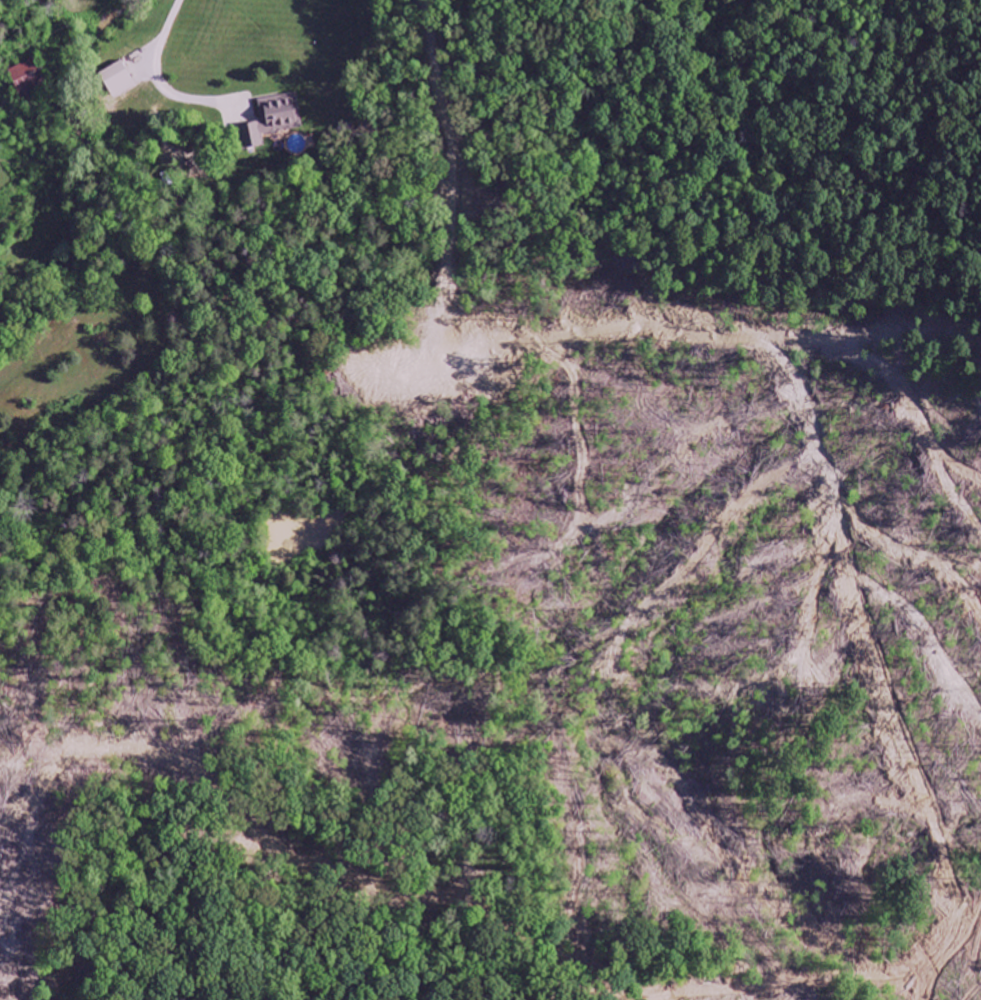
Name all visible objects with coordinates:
building: (118, 80)
building: (273, 120)

